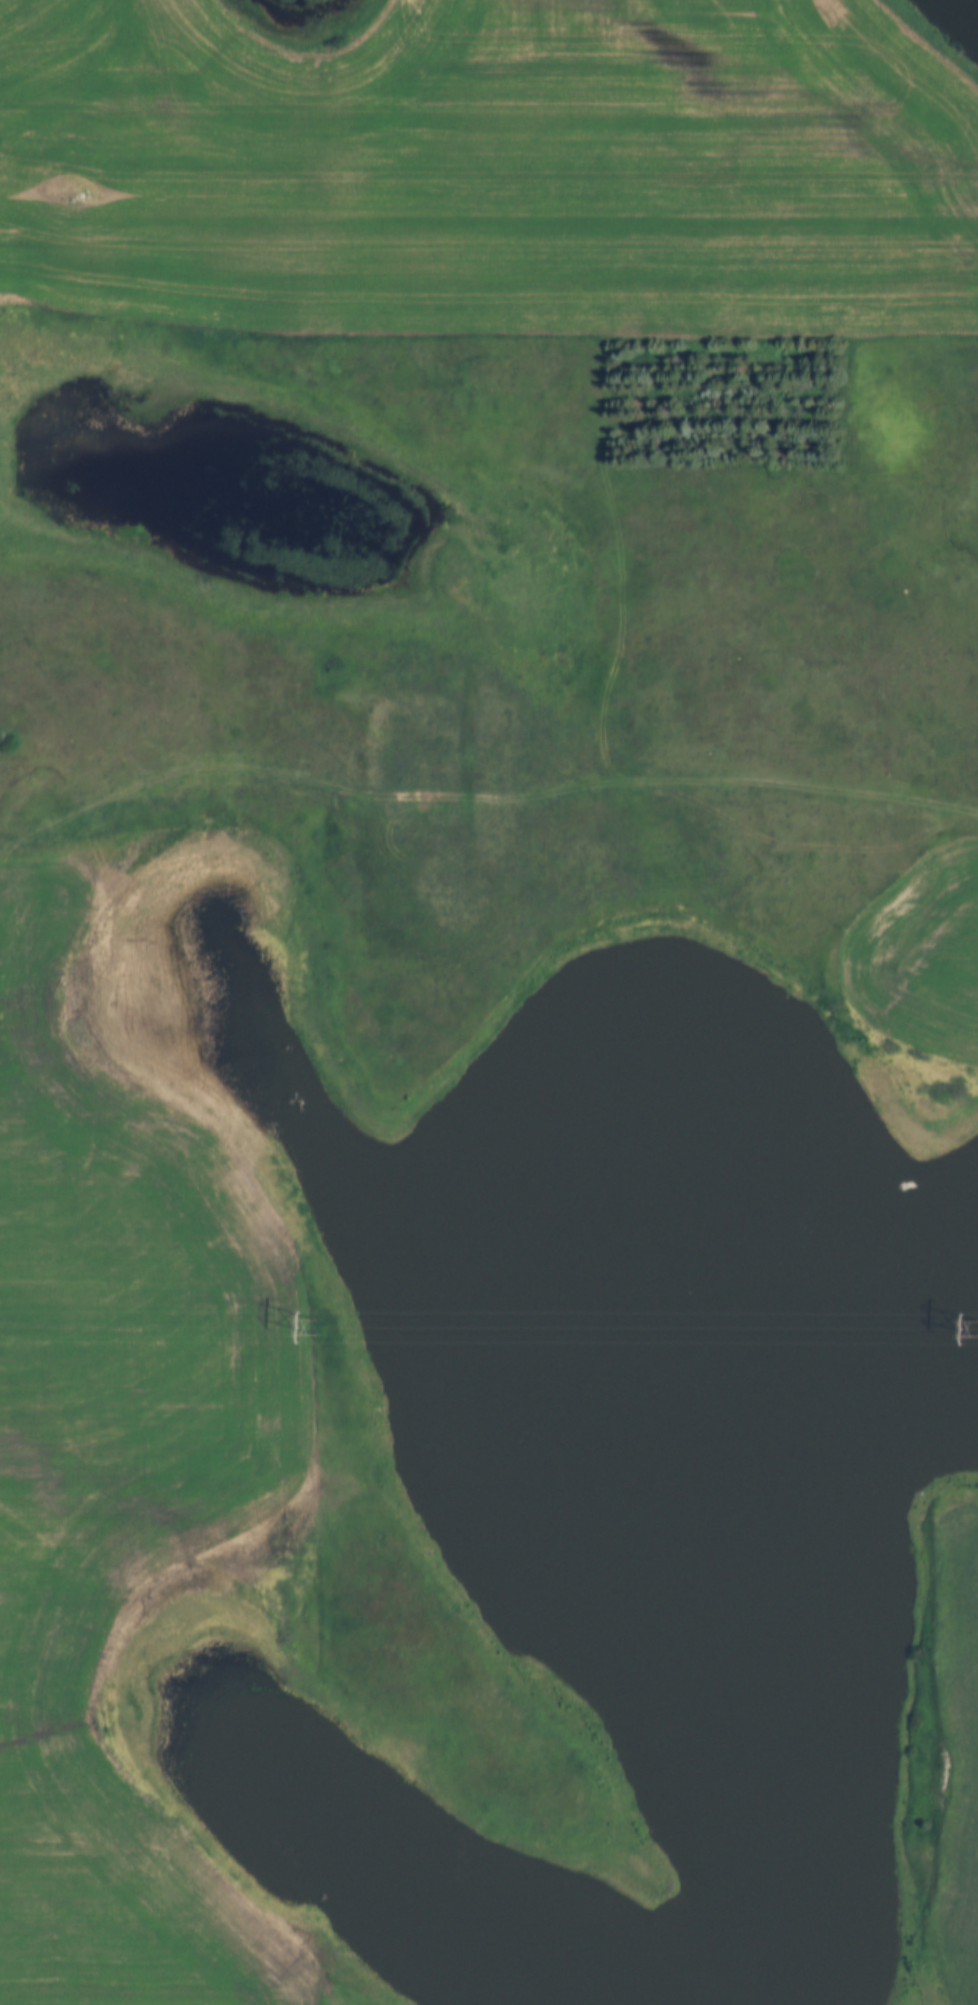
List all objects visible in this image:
power tower: (314, 1324)
power tower: (977, 1329)

